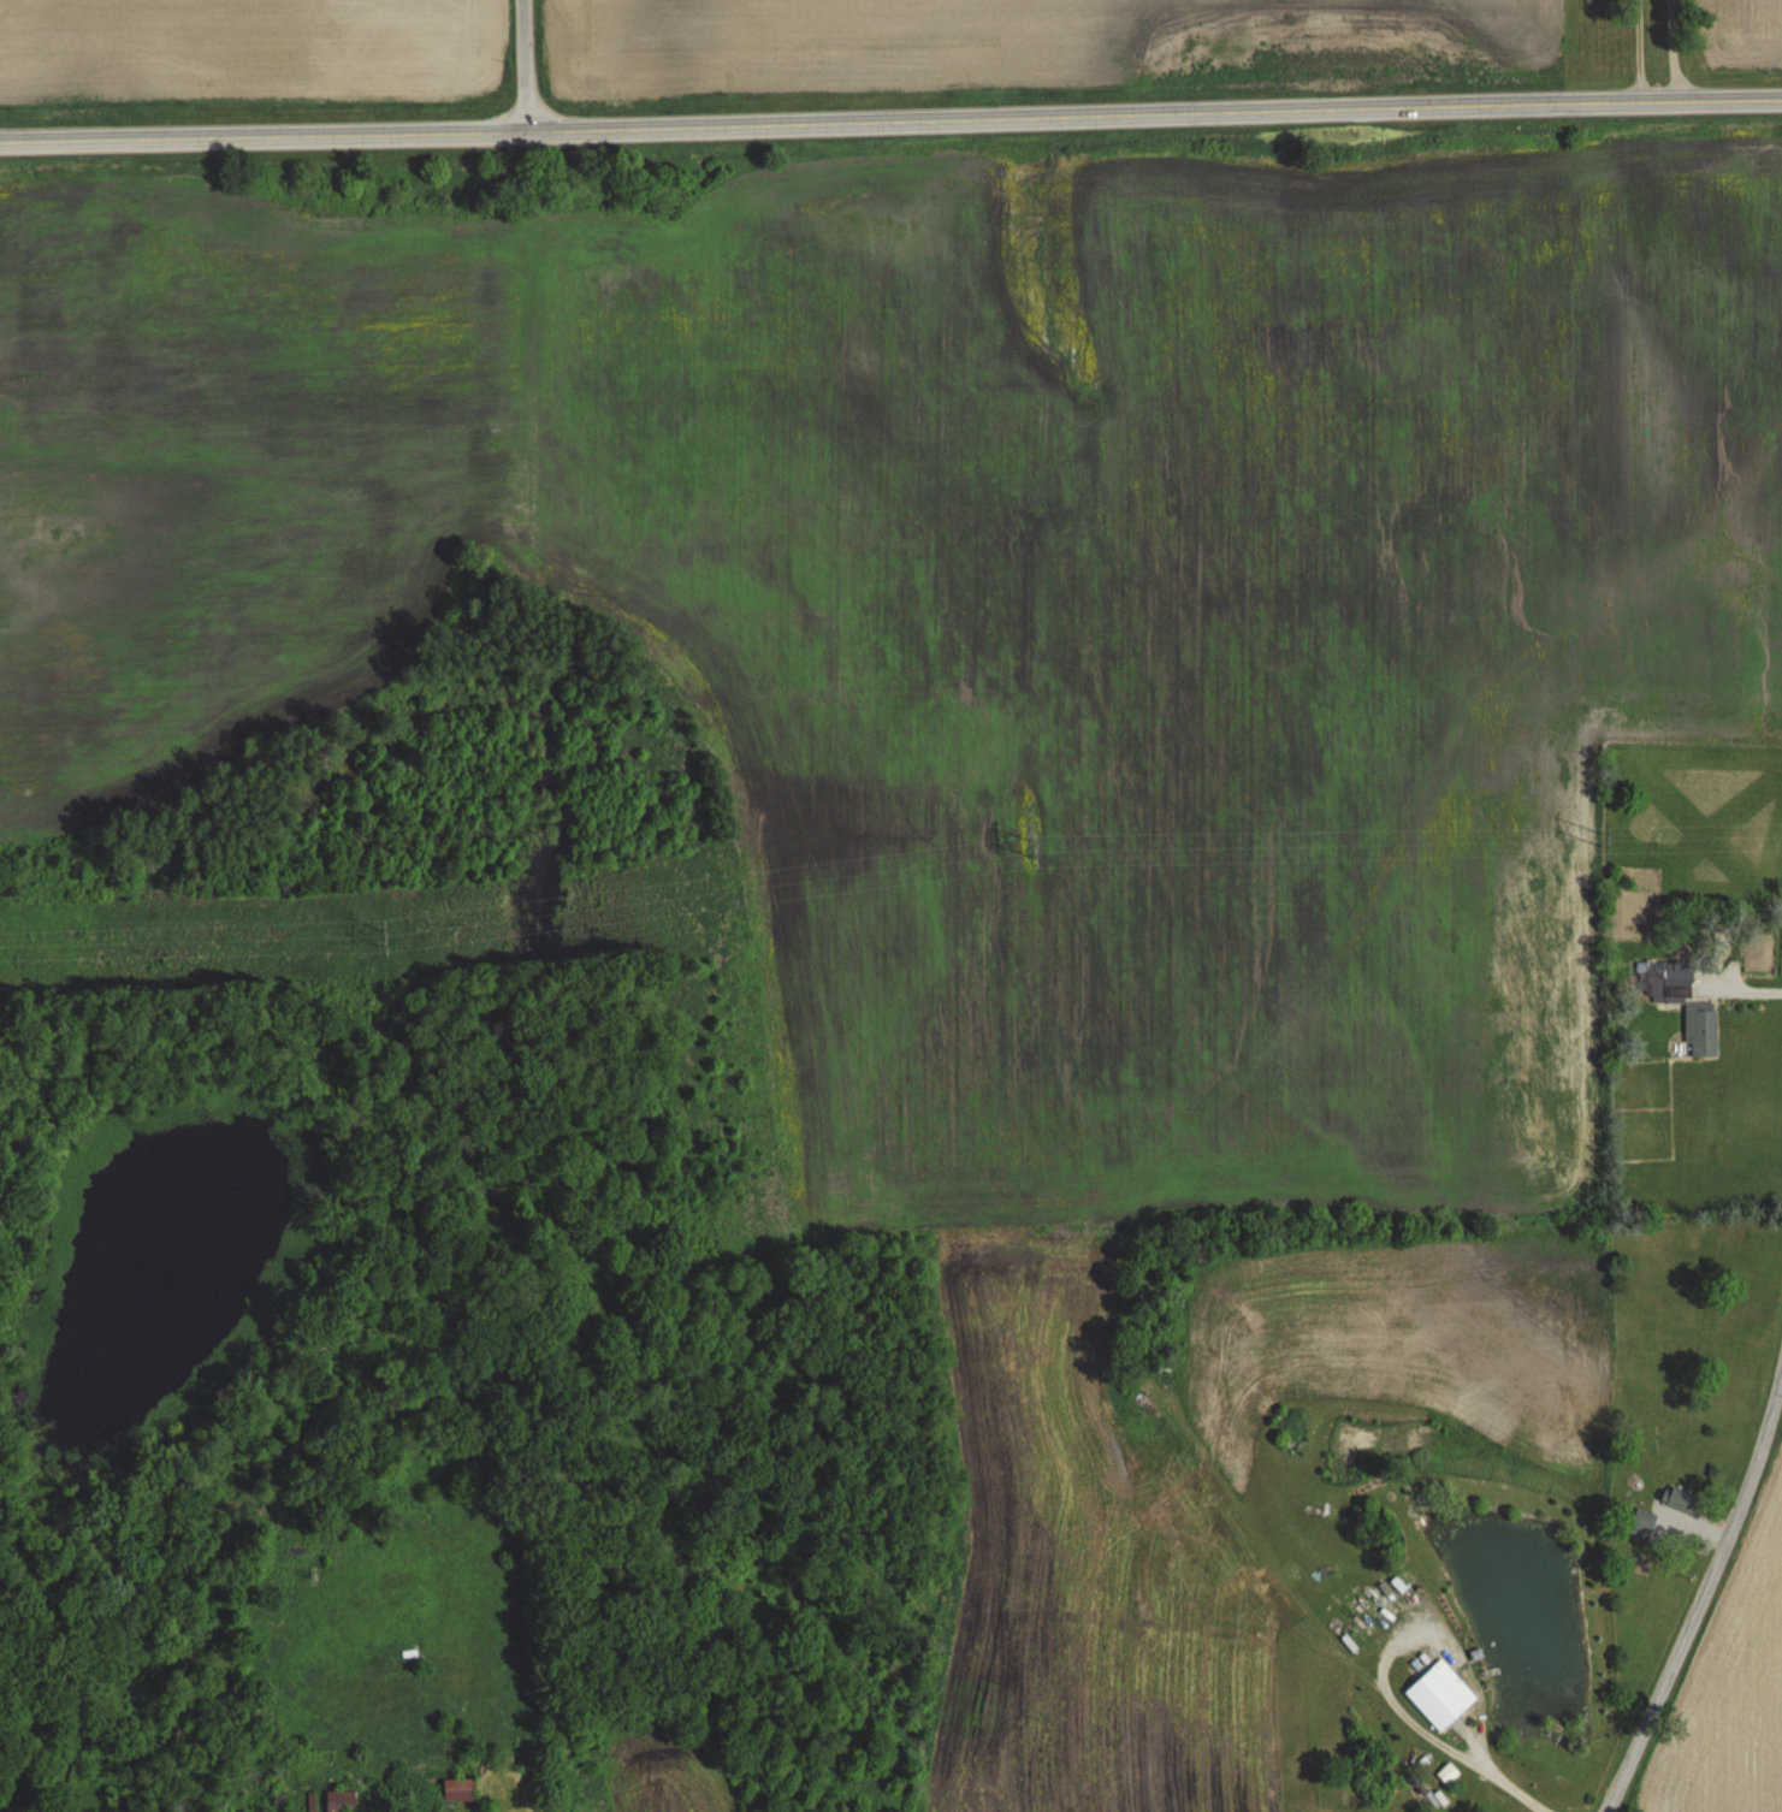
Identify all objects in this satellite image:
road: (1636, 51)
road: (1670, 51)
road: (525, 64)
road: (890, 119)
building: (1700, 1029)
building: (1681, 1500)
building: (1641, 1527)
road: (1701, 1601)
building: (1440, 1694)
road: (1502, 1777)
building: (458, 1789)
building: (342, 1801)

